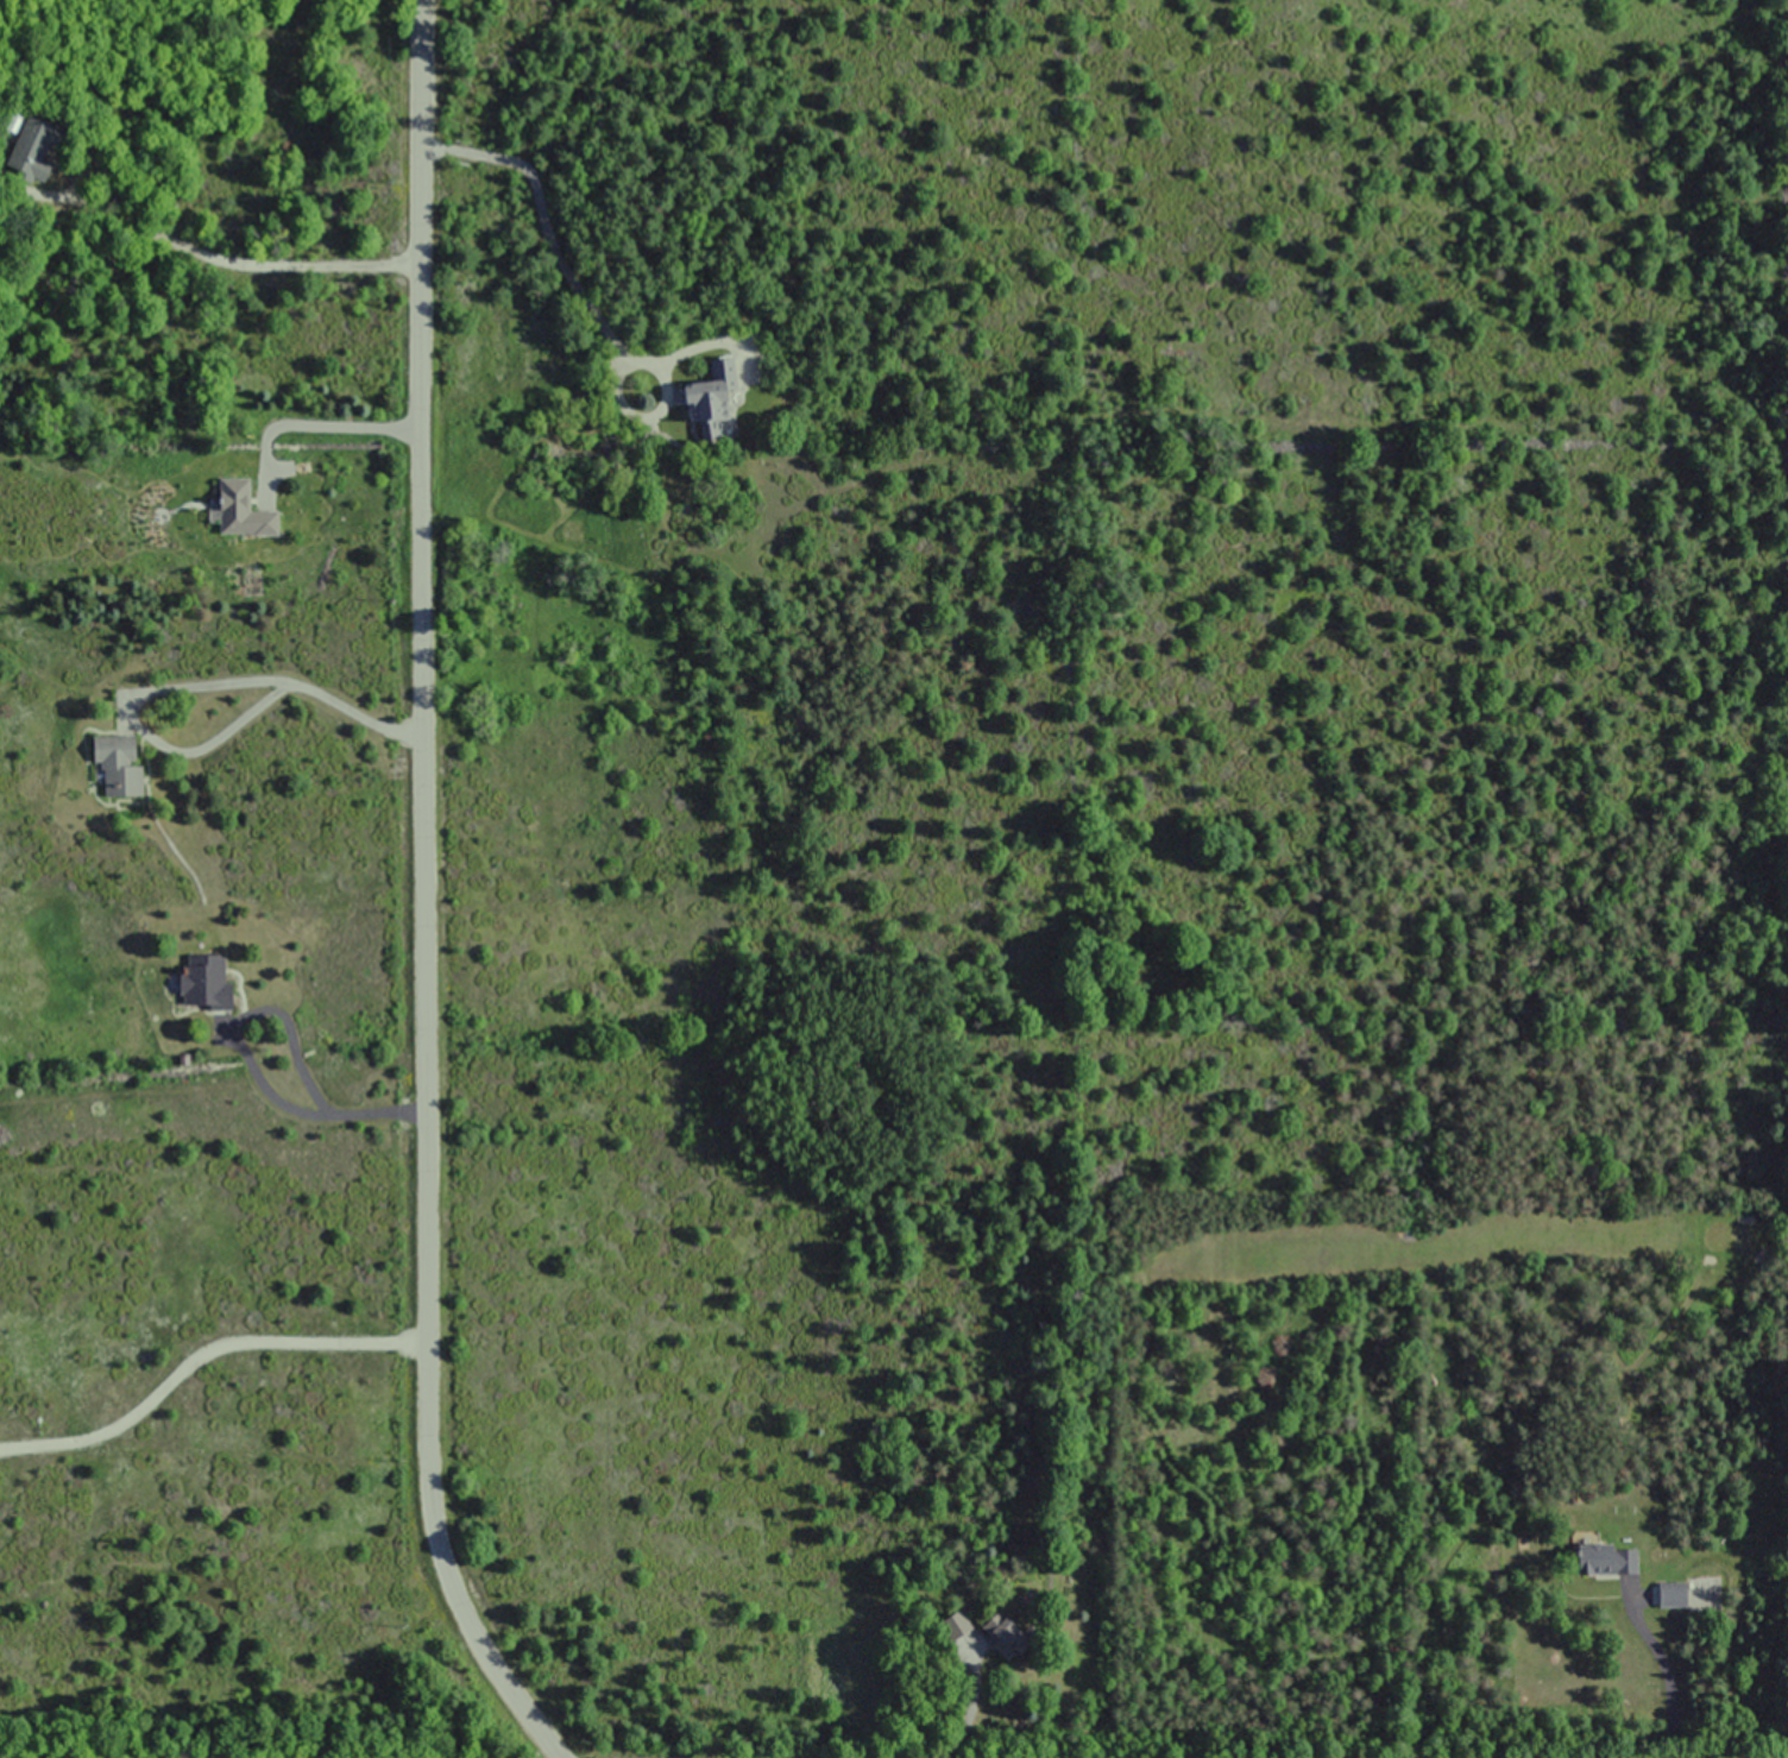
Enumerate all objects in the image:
building: (32, 147)
road: (229, 263)
road: (581, 296)
building: (706, 398)
road: (168, 688)
building: (114, 763)
road: (427, 894)
building: (201, 981)
road: (246, 1053)
road: (200, 1354)
building: (1592, 1555)
building: (1668, 1594)
road: (1670, 1681)
road: (956, 1721)

